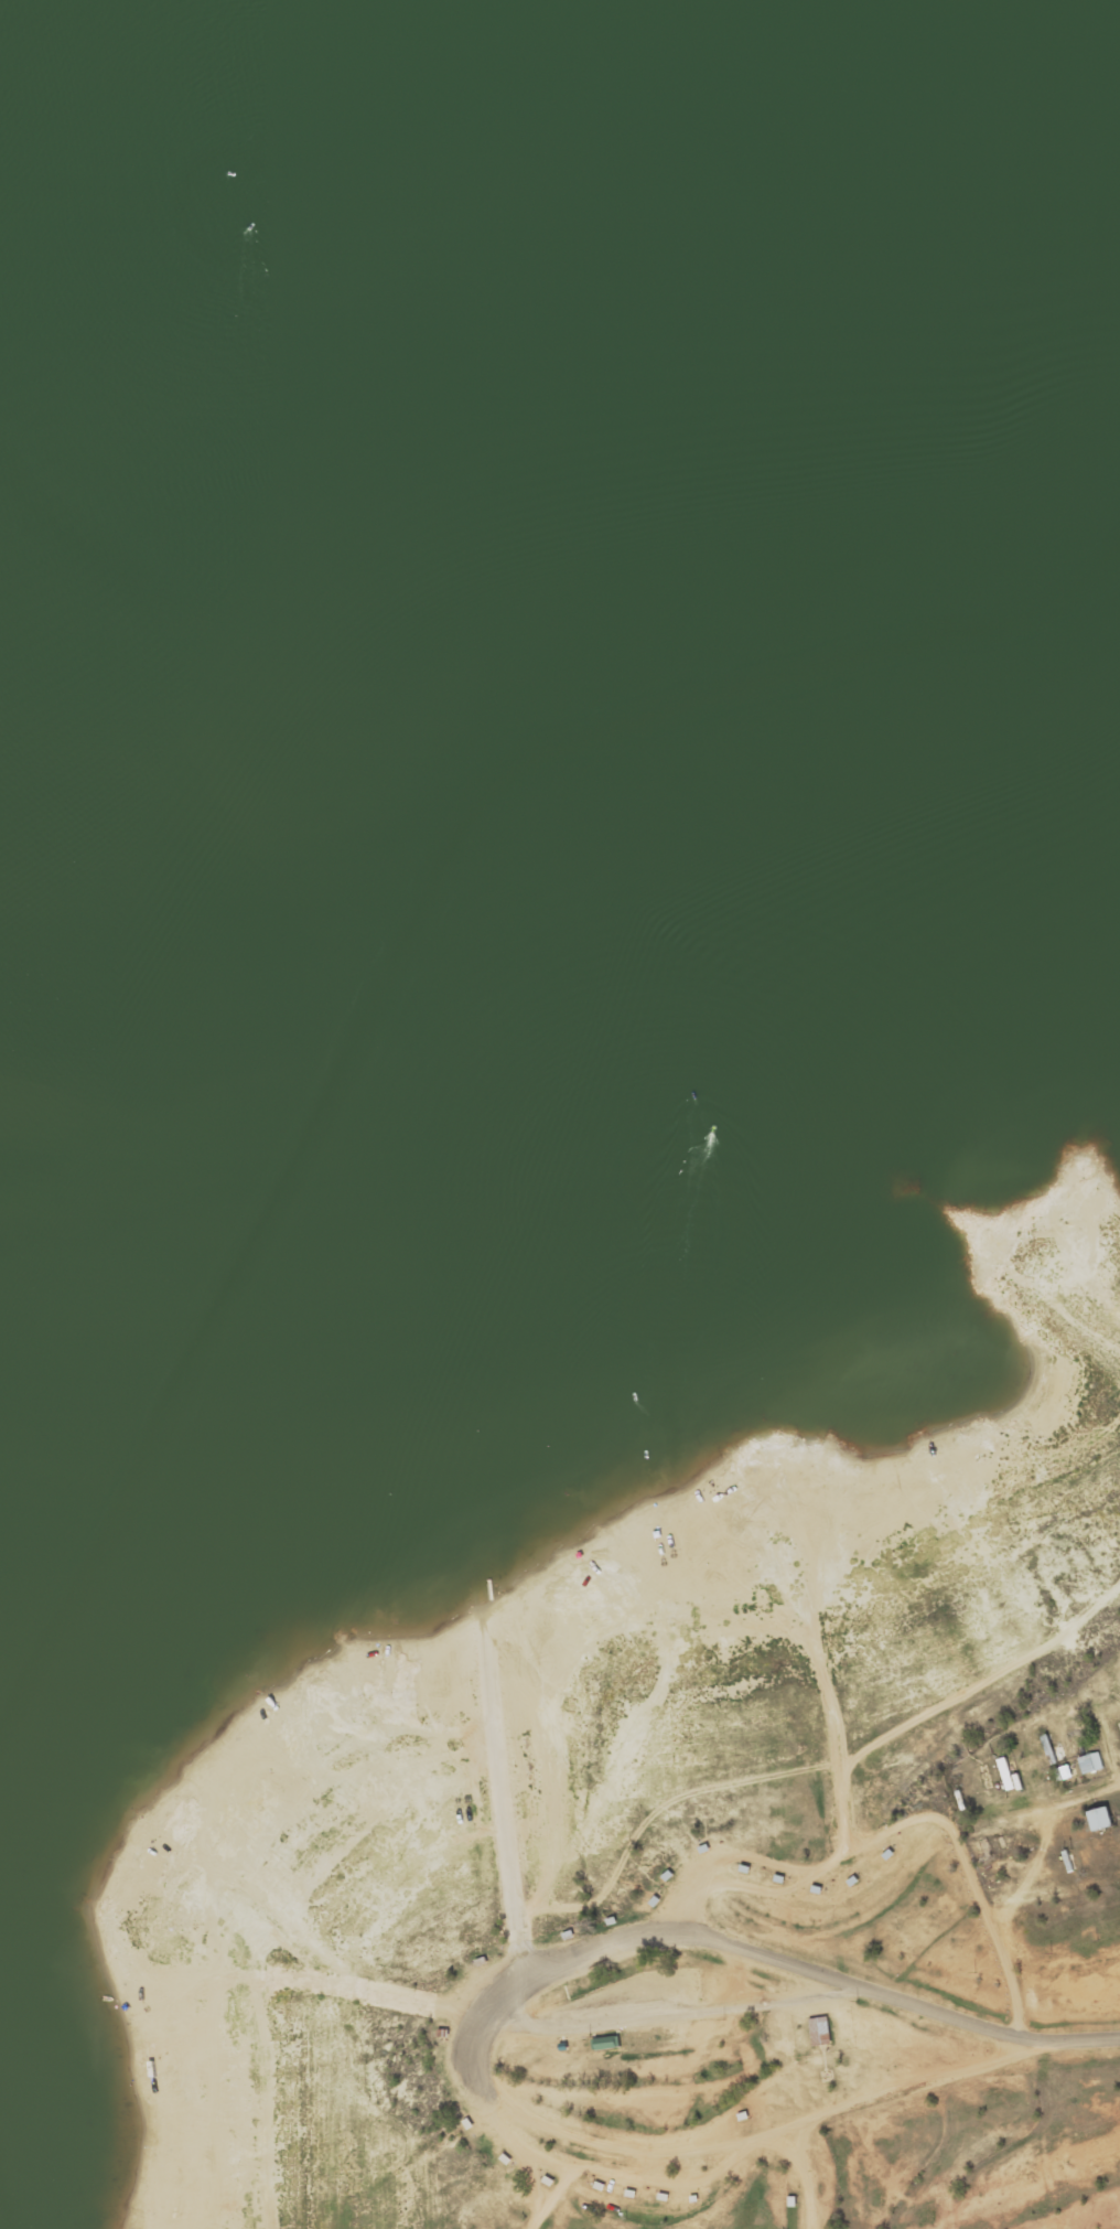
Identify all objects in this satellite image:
building: (1119, 1726)
building: (1090, 1764)
building: (1006, 1775)
building: (1100, 1820)
road: (1102, 1909)
road: (732, 1938)
road: (865, 1939)
road: (1016, 1942)
road: (976, 1980)
building: (819, 2030)
building: (606, 2042)
road: (909, 2086)
road: (708, 2146)
road: (525, 2177)

